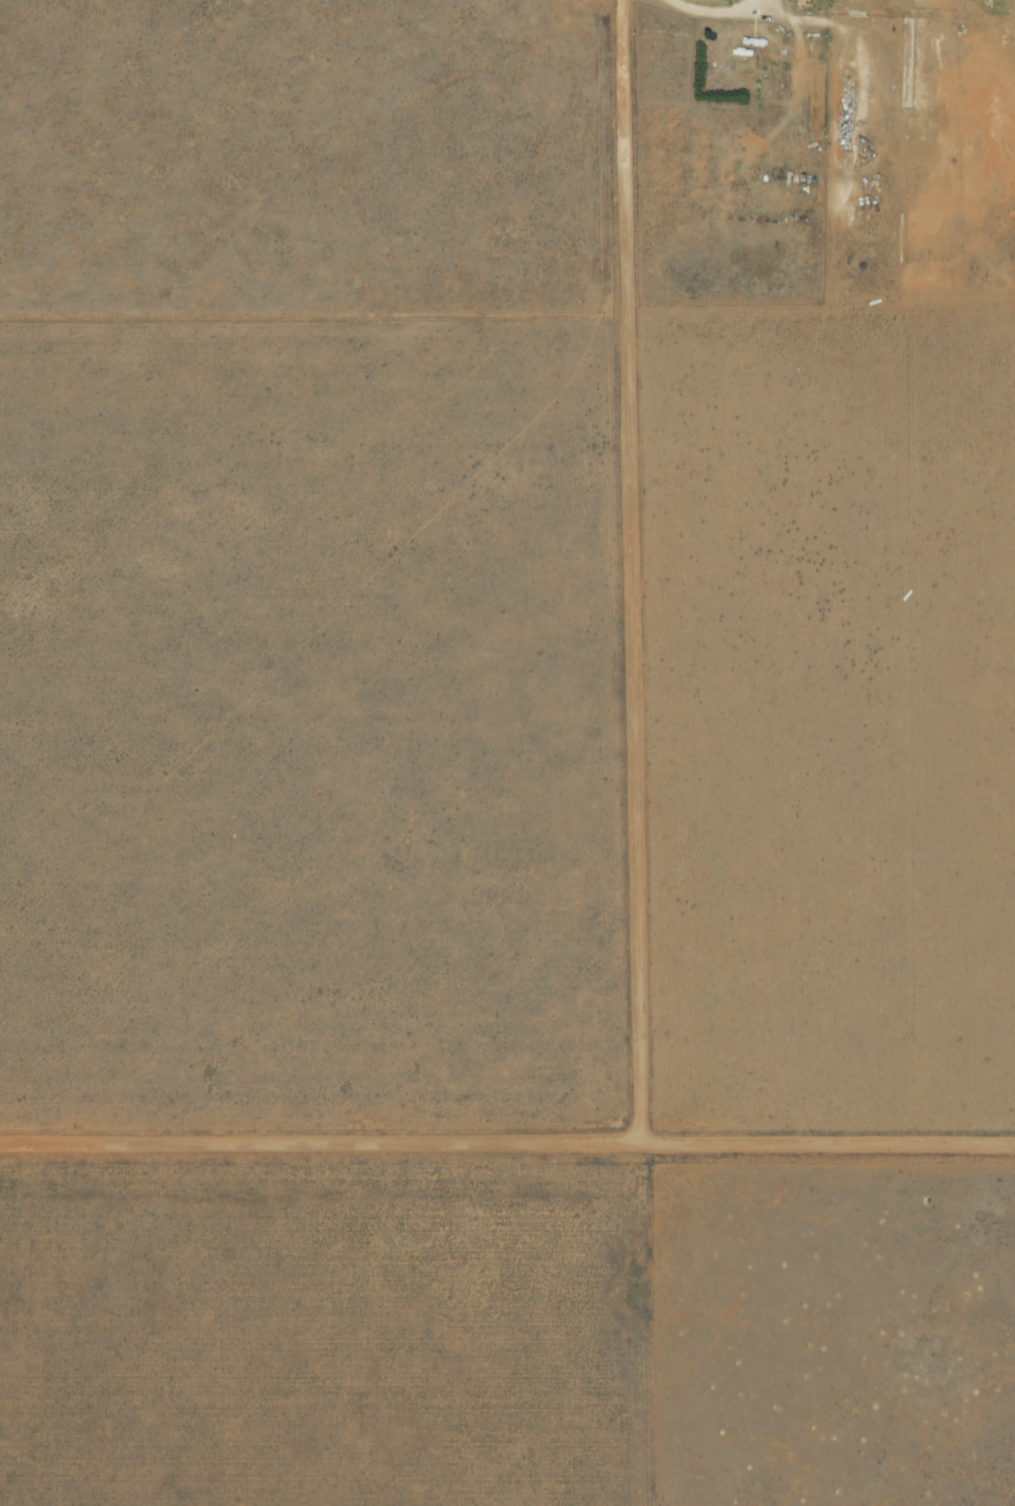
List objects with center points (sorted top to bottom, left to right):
road: (700, 13)
building: (742, 59)
road: (631, 574)
road: (507, 1148)

